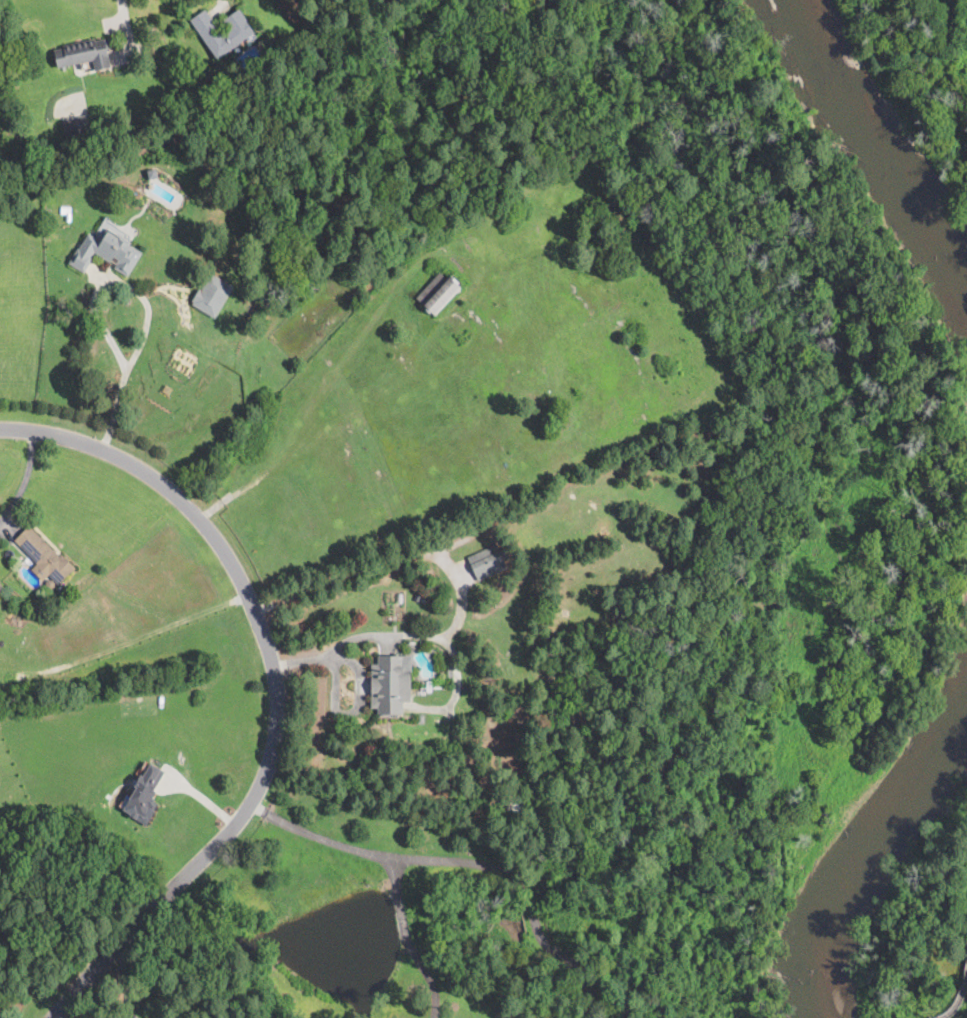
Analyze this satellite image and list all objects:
building: (399, 0)
park: (849, 1)
road: (222, 5)
road: (126, 26)
building: (237, 33)
building: (84, 53)
building: (76, 125)
river: (884, 138)
park: (951, 144)
building: (516, 179)
building: (107, 252)
building: (438, 293)
building: (212, 295)
building: (495, 304)
road: (146, 307)
road: (25, 479)
building: (44, 556)
building: (492, 561)
building: (50, 582)
building: (0, 589)
road: (420, 634)
building: (450, 673)
road: (360, 677)
building: (390, 685)
road: (278, 687)
building: (144, 792)
road: (318, 836)
river: (857, 846)
road: (523, 894)
park: (929, 930)
road: (409, 940)
road: (124, 982)
road: (958, 999)

